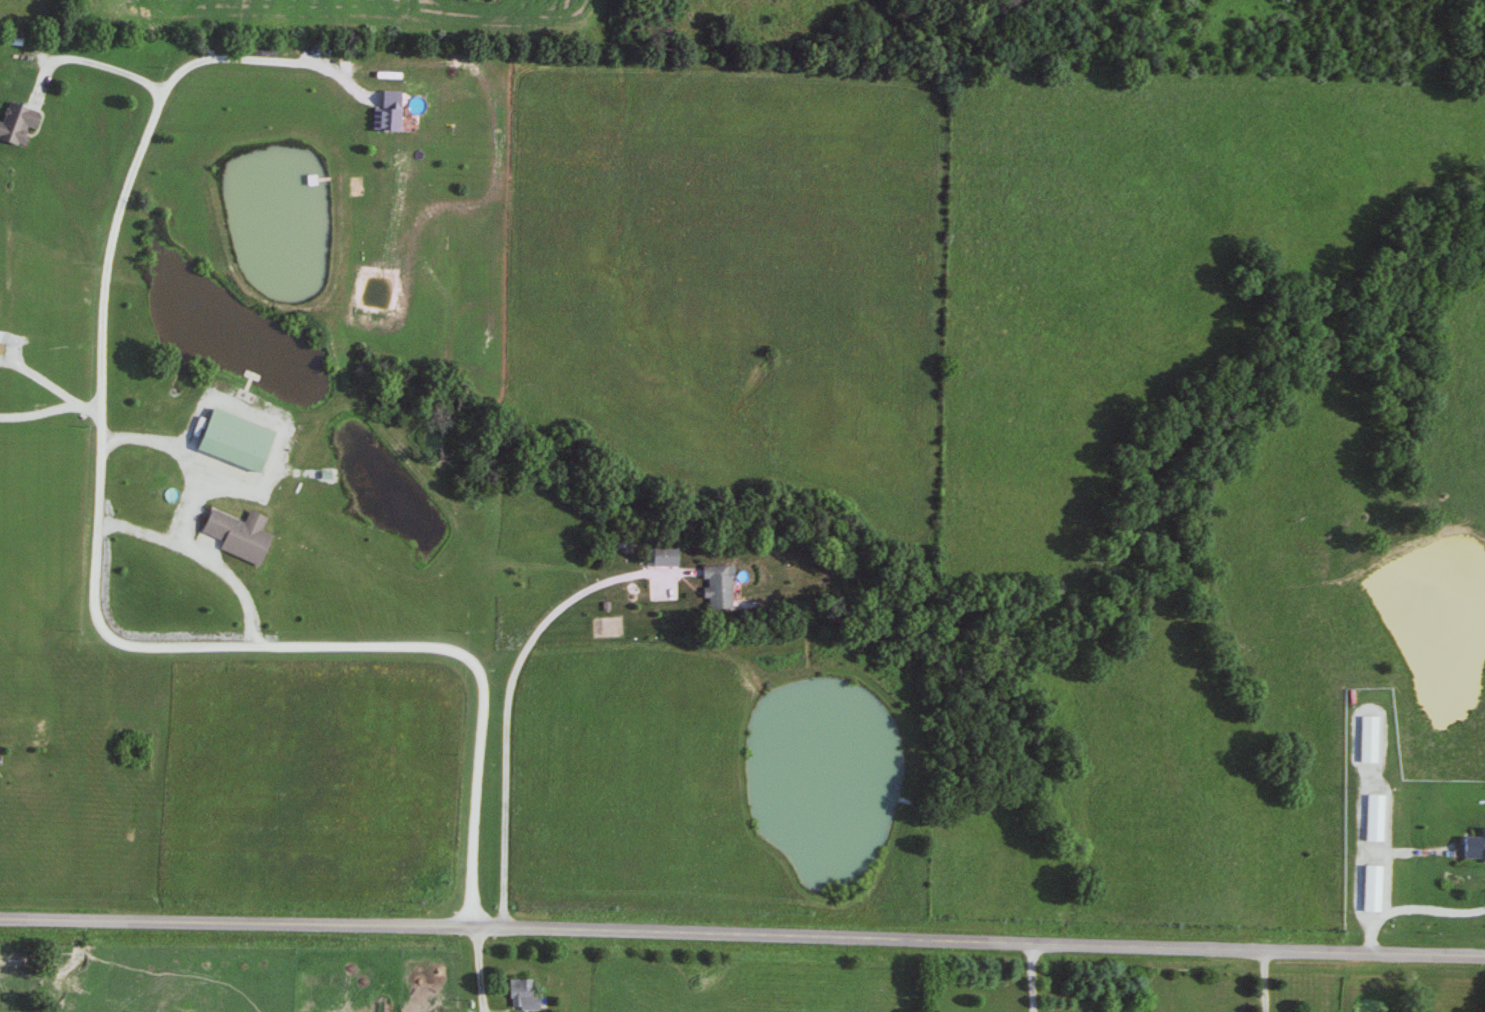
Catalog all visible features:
road: (266, 60)
road: (83, 62)
building: (397, 111)
building: (19, 124)
road: (38, 379)
road: (50, 409)
building: (239, 440)
road: (180, 460)
building: (242, 535)
building: (668, 556)
road: (200, 557)
building: (719, 586)
road: (141, 648)
road: (504, 703)
building: (0, 758)
building: (1376, 813)
building: (1474, 846)
road: (1409, 912)
road: (742, 933)
road: (474, 968)
road: (1027, 976)
road: (1262, 982)
building: (524, 994)

